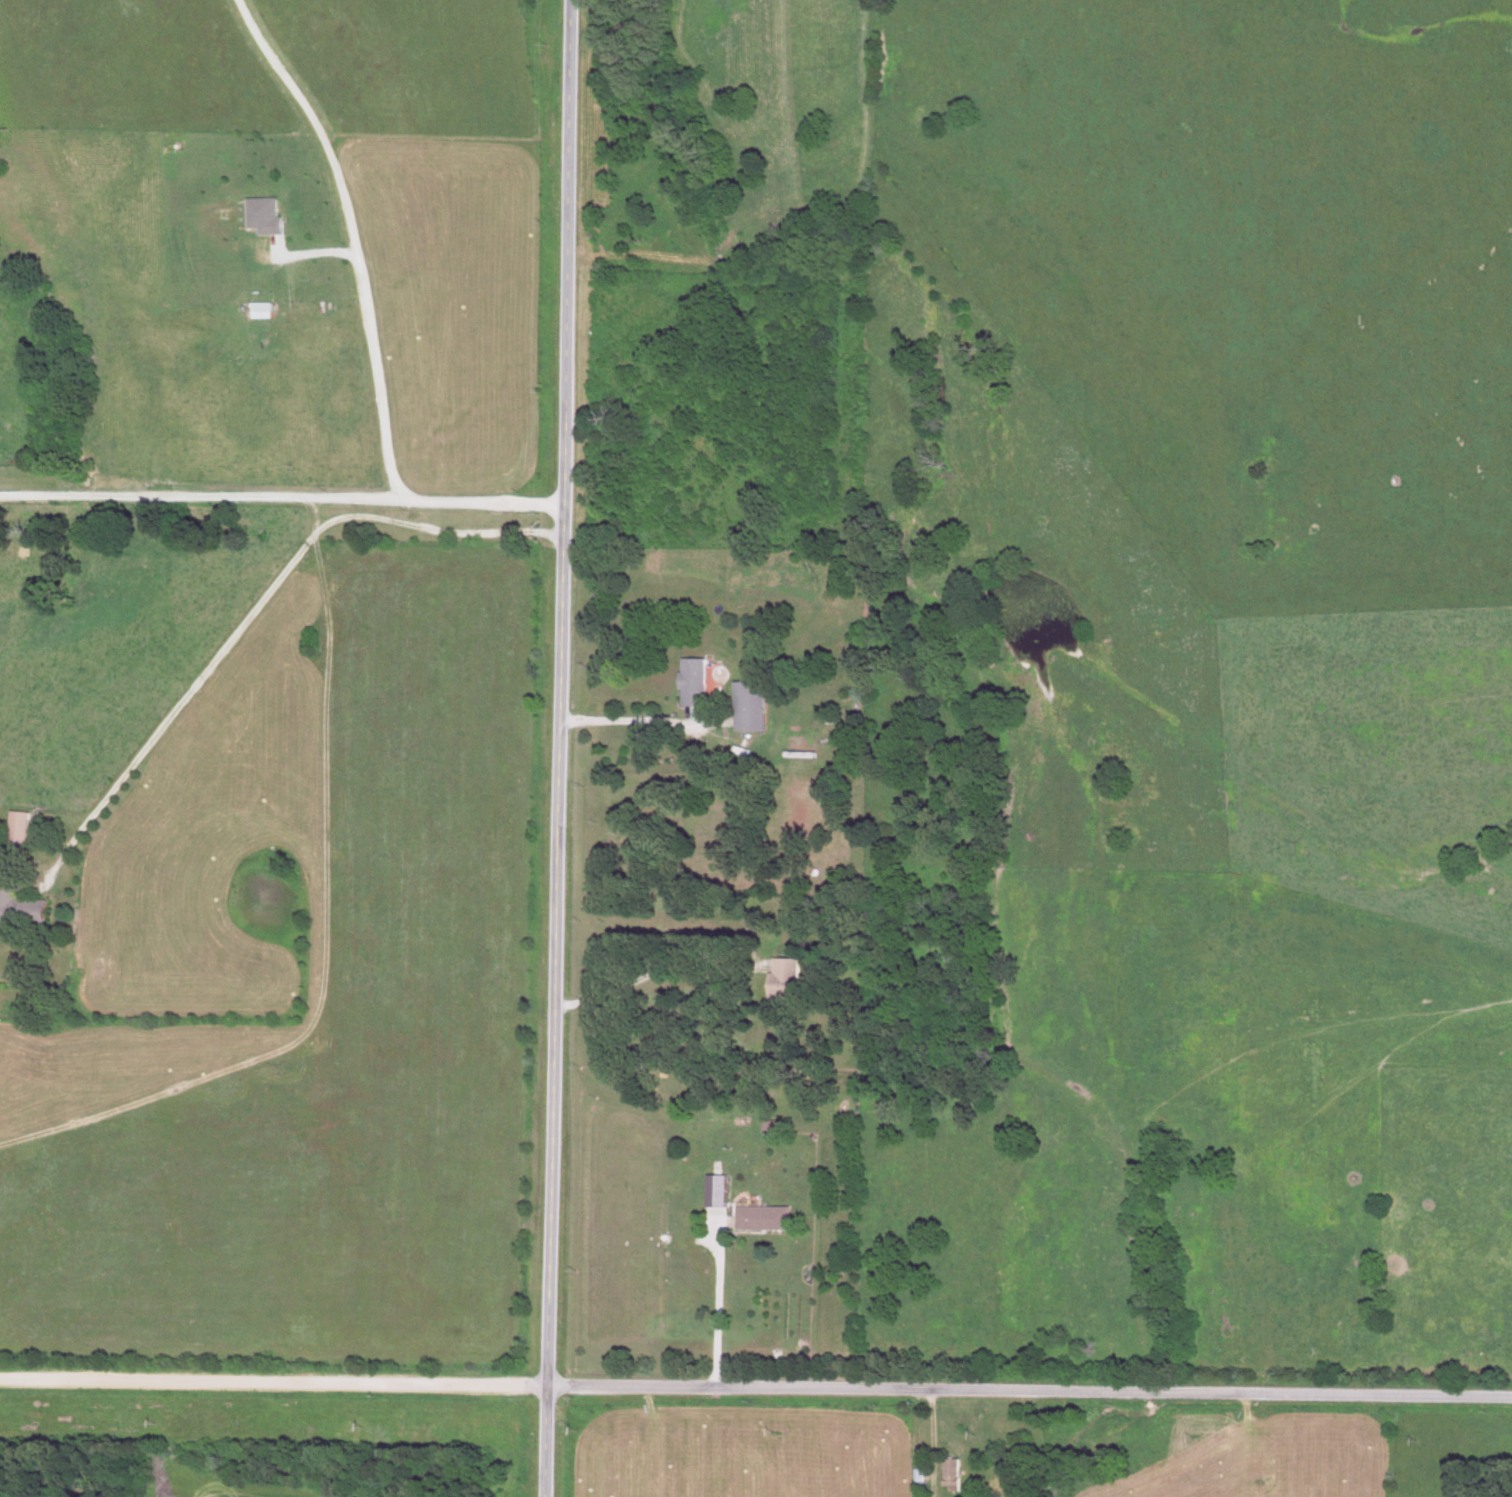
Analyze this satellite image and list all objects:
building: (259, 217)
road: (348, 240)
road: (200, 497)
road: (481, 504)
road: (411, 518)
road: (261, 598)
building: (688, 683)
building: (745, 707)
road: (619, 718)
road: (555, 748)
building: (16, 829)
building: (778, 972)
road: (640, 979)
building: (759, 1219)
road: (714, 1320)
road: (756, 1389)
building: (948, 1475)
building: (917, 1483)

